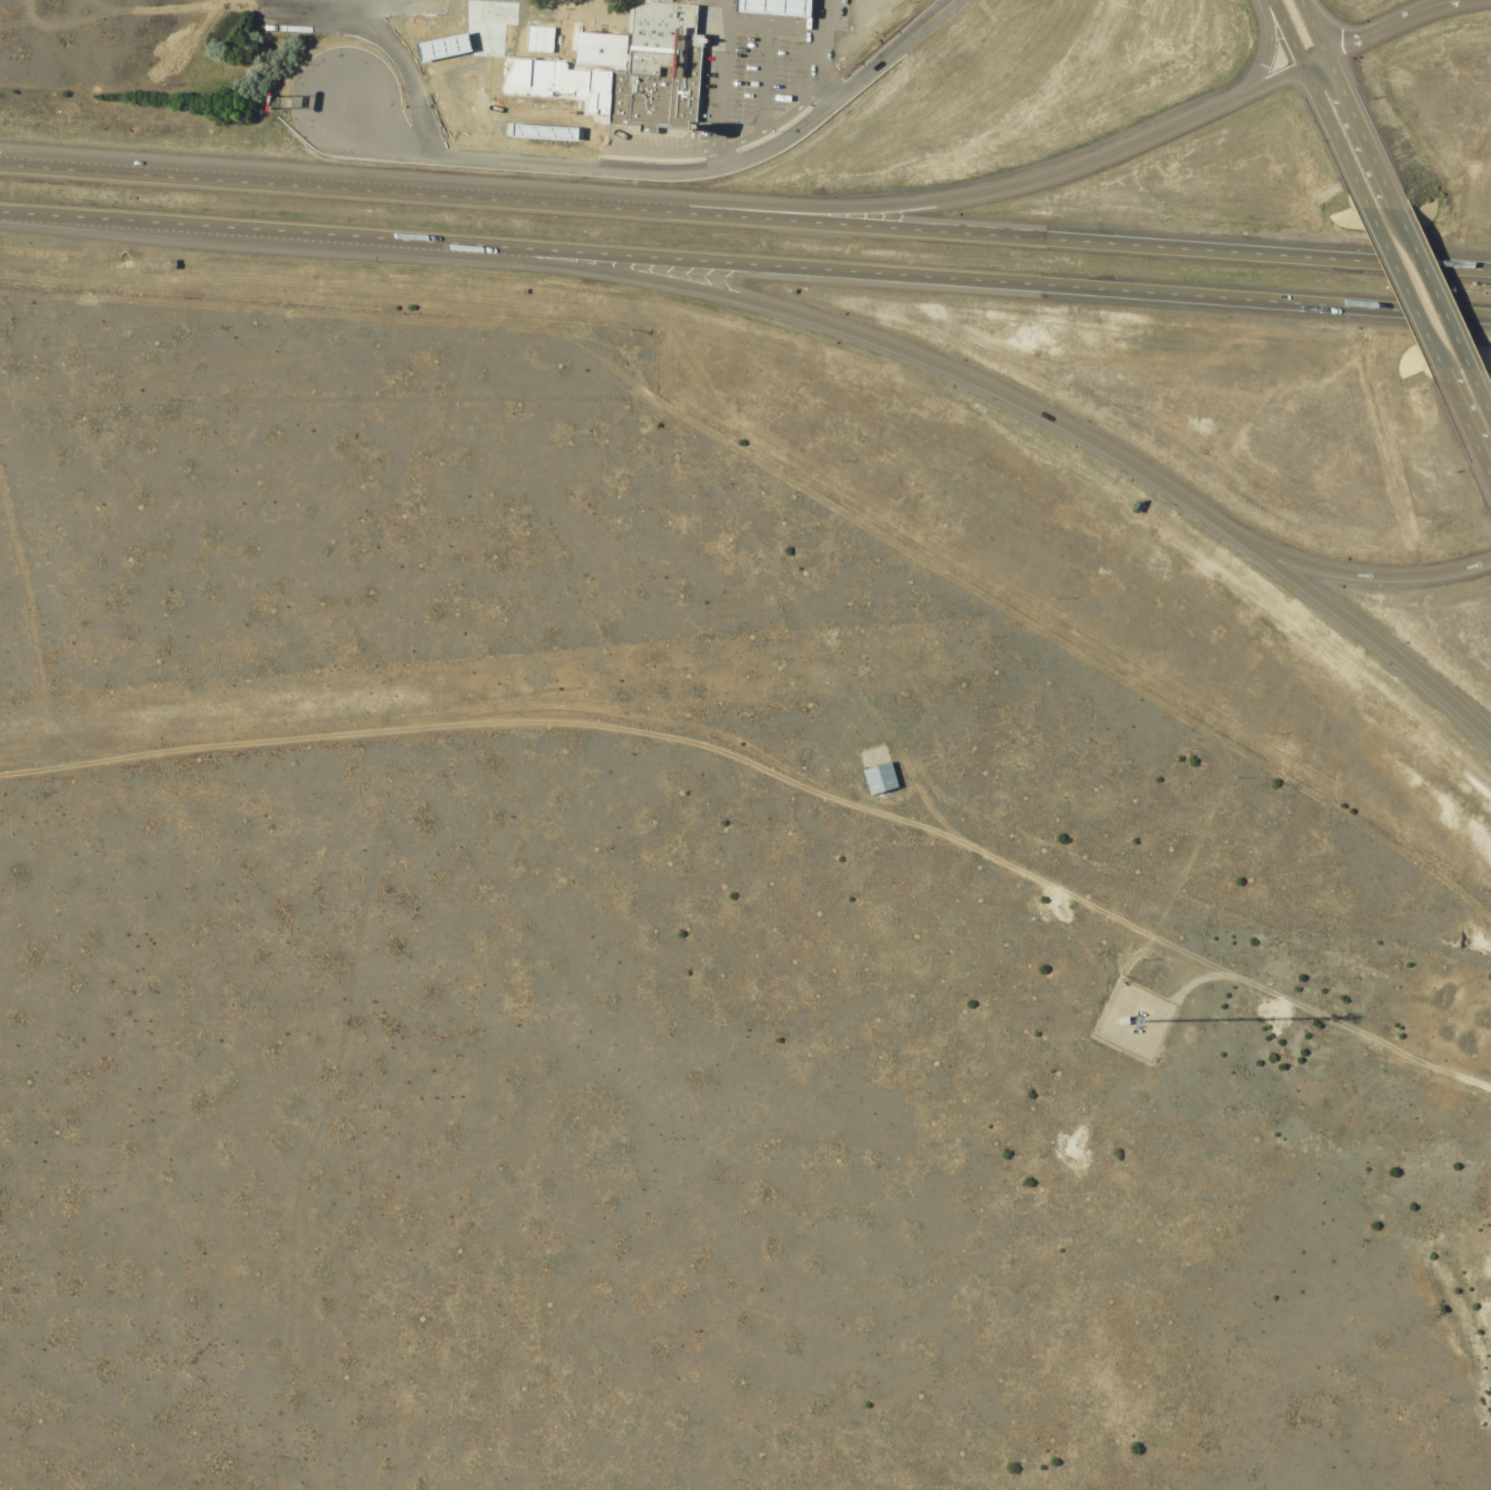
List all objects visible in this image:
parking lot: (415, 1)
building: (772, 8)
gas station: (772, 8)
road: (547, 18)
road: (1381, 25)
road: (1309, 27)
road: (1265, 46)
road: (824, 51)
building: (595, 58)
road: (775, 58)
parking lot: (771, 60)
building: (653, 72)
building: (523, 78)
road: (727, 89)
road: (425, 90)
road: (799, 99)
road: (1319, 104)
road: (841, 107)
building: (535, 123)
gas station: (535, 123)
road: (750, 128)
road: (1357, 129)
road: (597, 137)
road: (682, 173)
road: (989, 188)
road: (745, 220)
road: (745, 265)
road: (1403, 289)
road: (1431, 290)
road: (880, 346)
road: (1454, 398)
road: (1480, 399)
road: (1480, 453)
road: (1363, 574)
road: (1368, 641)
road: (773, 777)
building: (875, 779)

